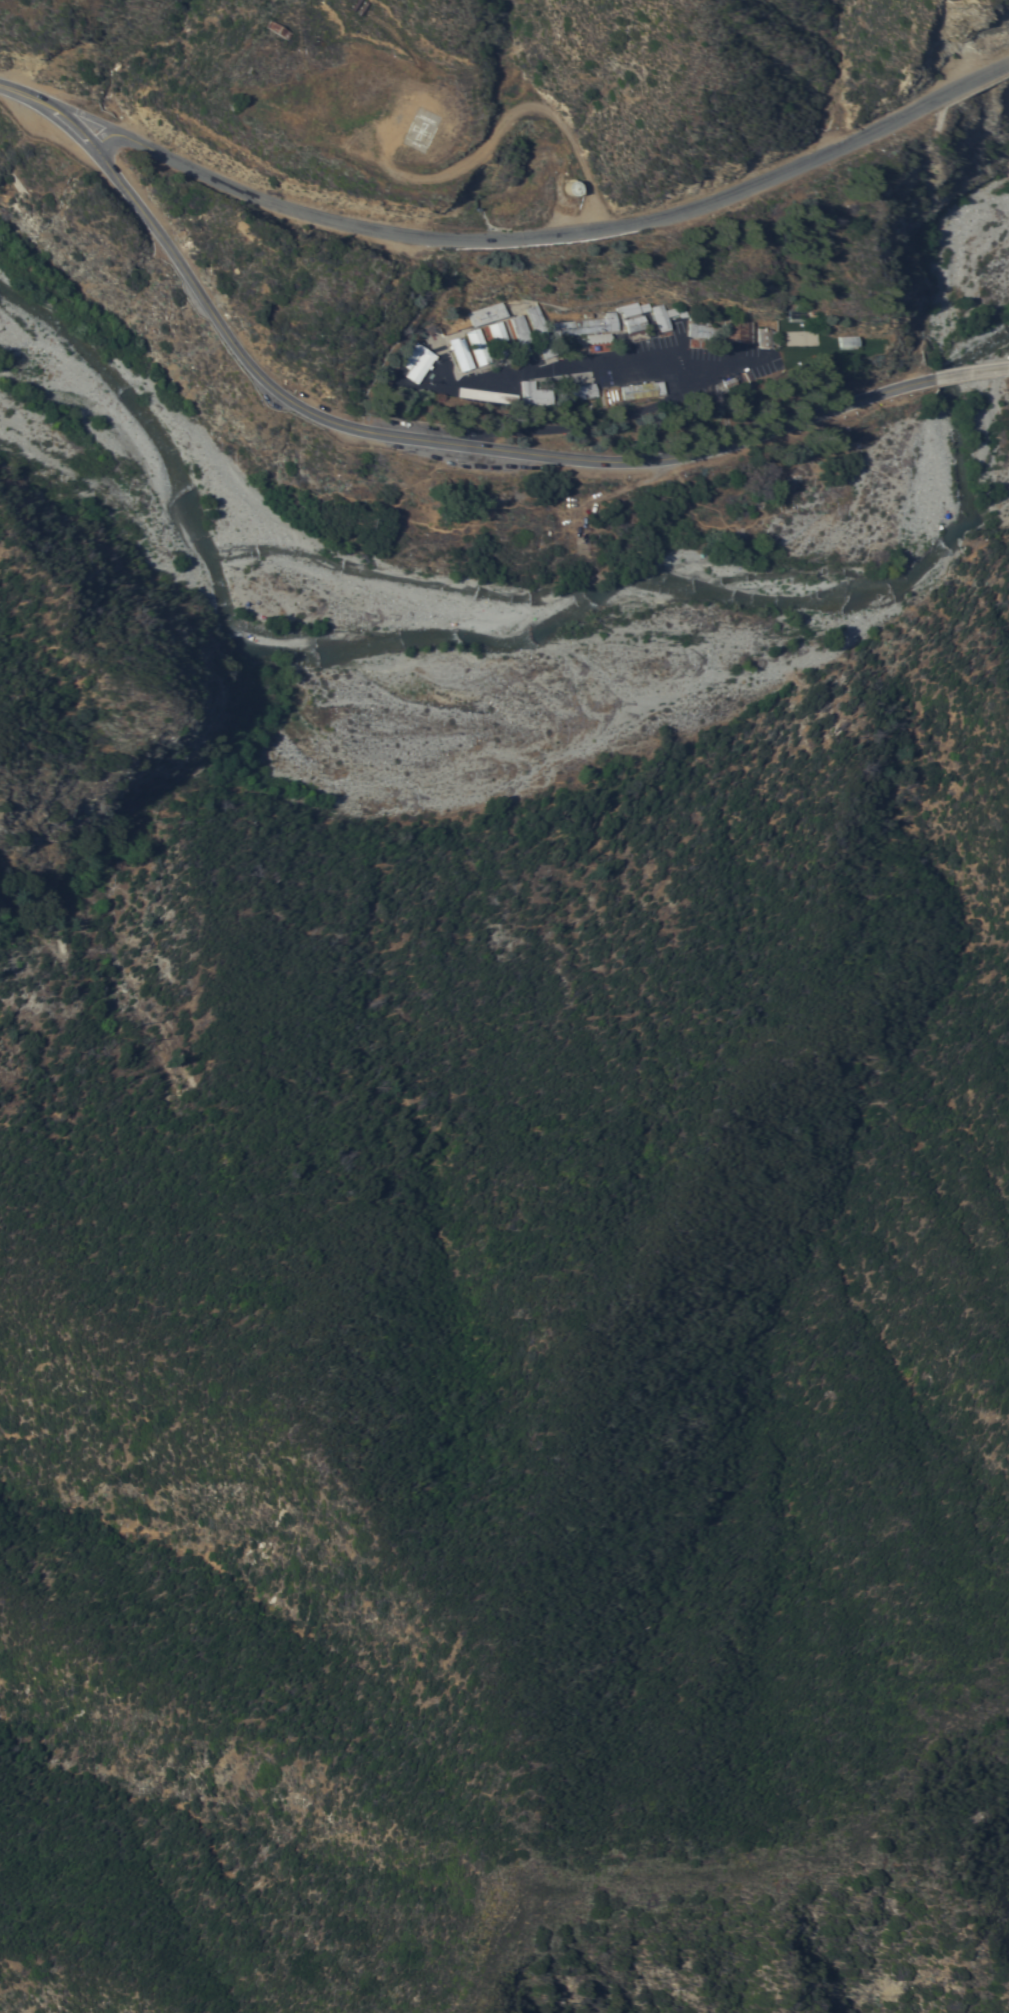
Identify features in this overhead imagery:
building: (279, 29)
road: (66, 110)
road: (499, 120)
building: (572, 186)
road: (554, 236)
building: (631, 308)
building: (489, 312)
building: (668, 314)
building: (636, 322)
building: (587, 324)
building: (705, 329)
building: (738, 329)
building: (540, 330)
building: (522, 332)
building: (600, 337)
building: (767, 337)
building: (501, 338)
building: (844, 340)
building: (479, 345)
building: (461, 352)
building: (418, 360)
road: (573, 370)
road: (974, 373)
building: (640, 388)
building: (582, 390)
building: (533, 393)
building: (485, 394)
road: (613, 417)
road: (400, 437)
river: (535, 598)

